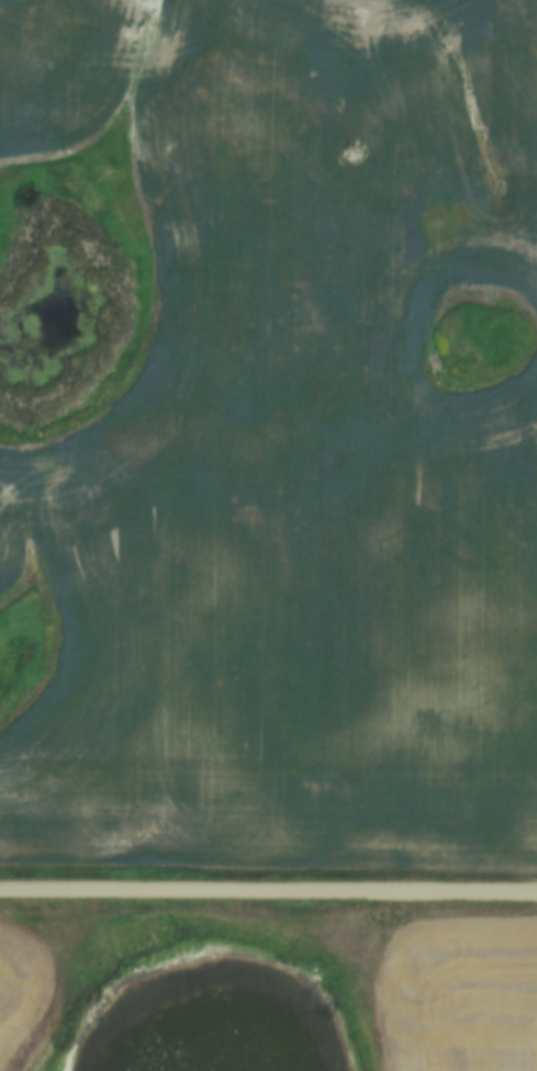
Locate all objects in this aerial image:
road: (268, 893)

